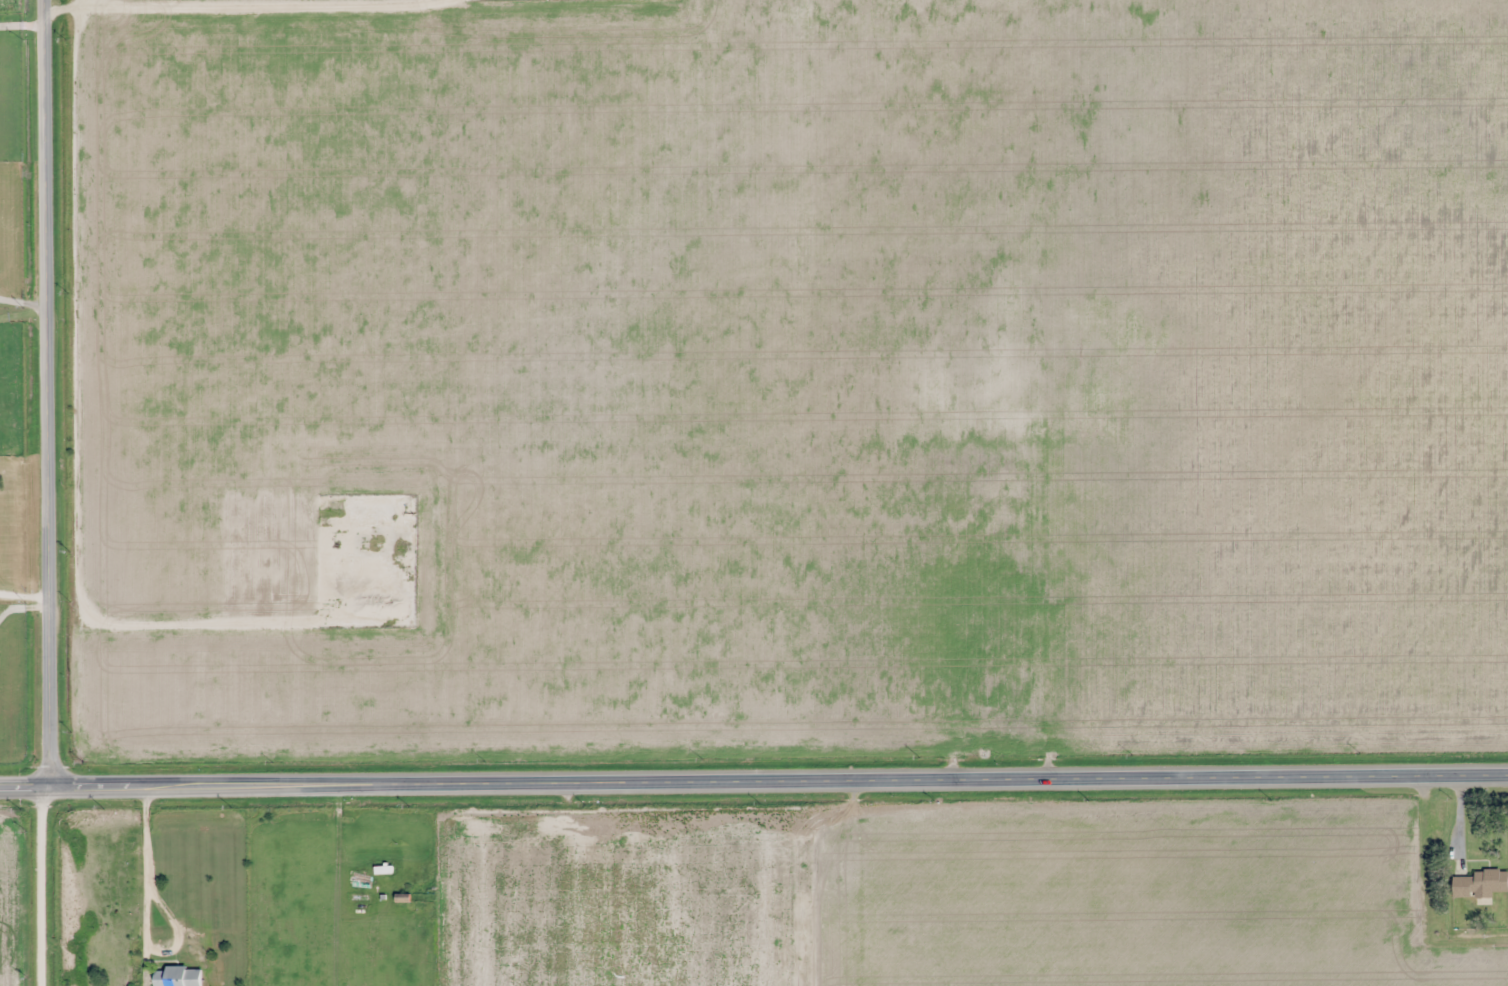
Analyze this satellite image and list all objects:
road: (47, 393)
road: (754, 784)
building: (1482, 884)
road: (48, 886)
building: (177, 977)

